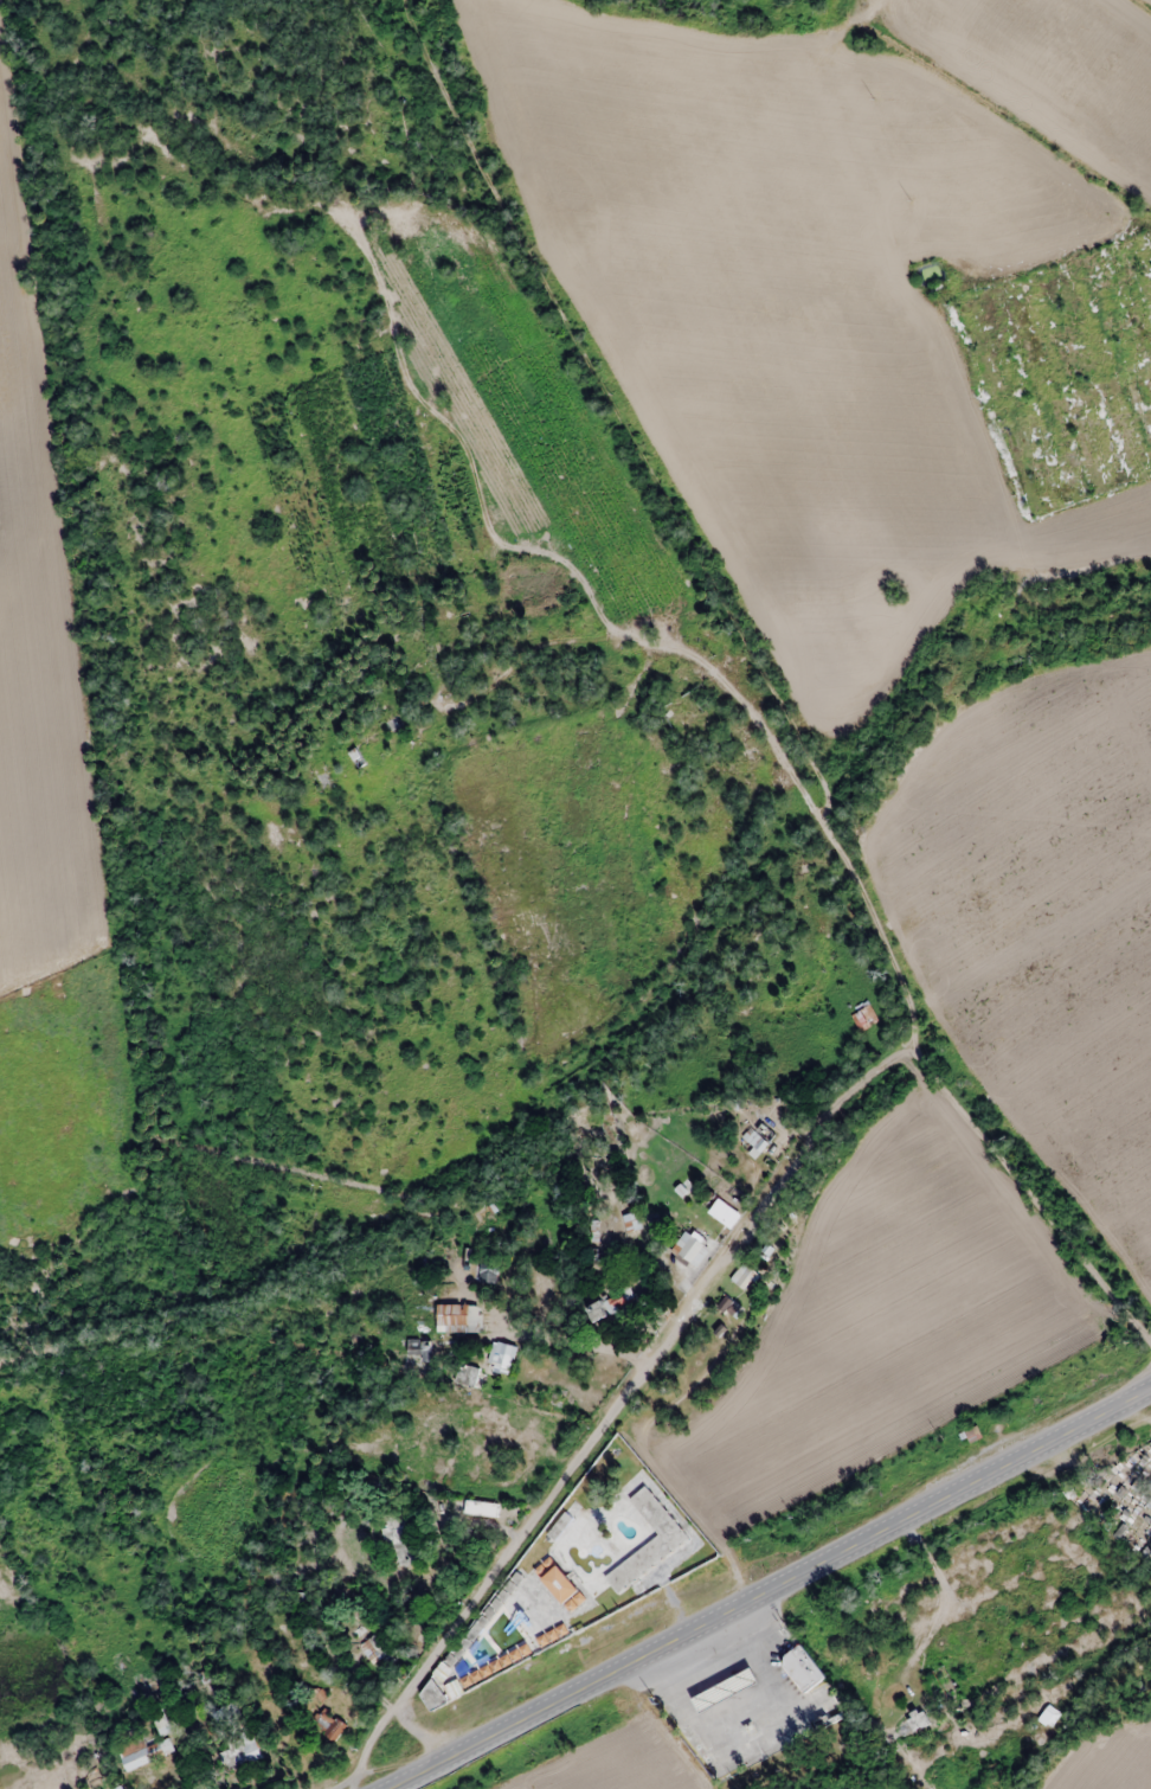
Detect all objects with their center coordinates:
road: (1037, 530)
park: (1114, 1498)
road: (760, 1586)
gas station: (757, 1679)

